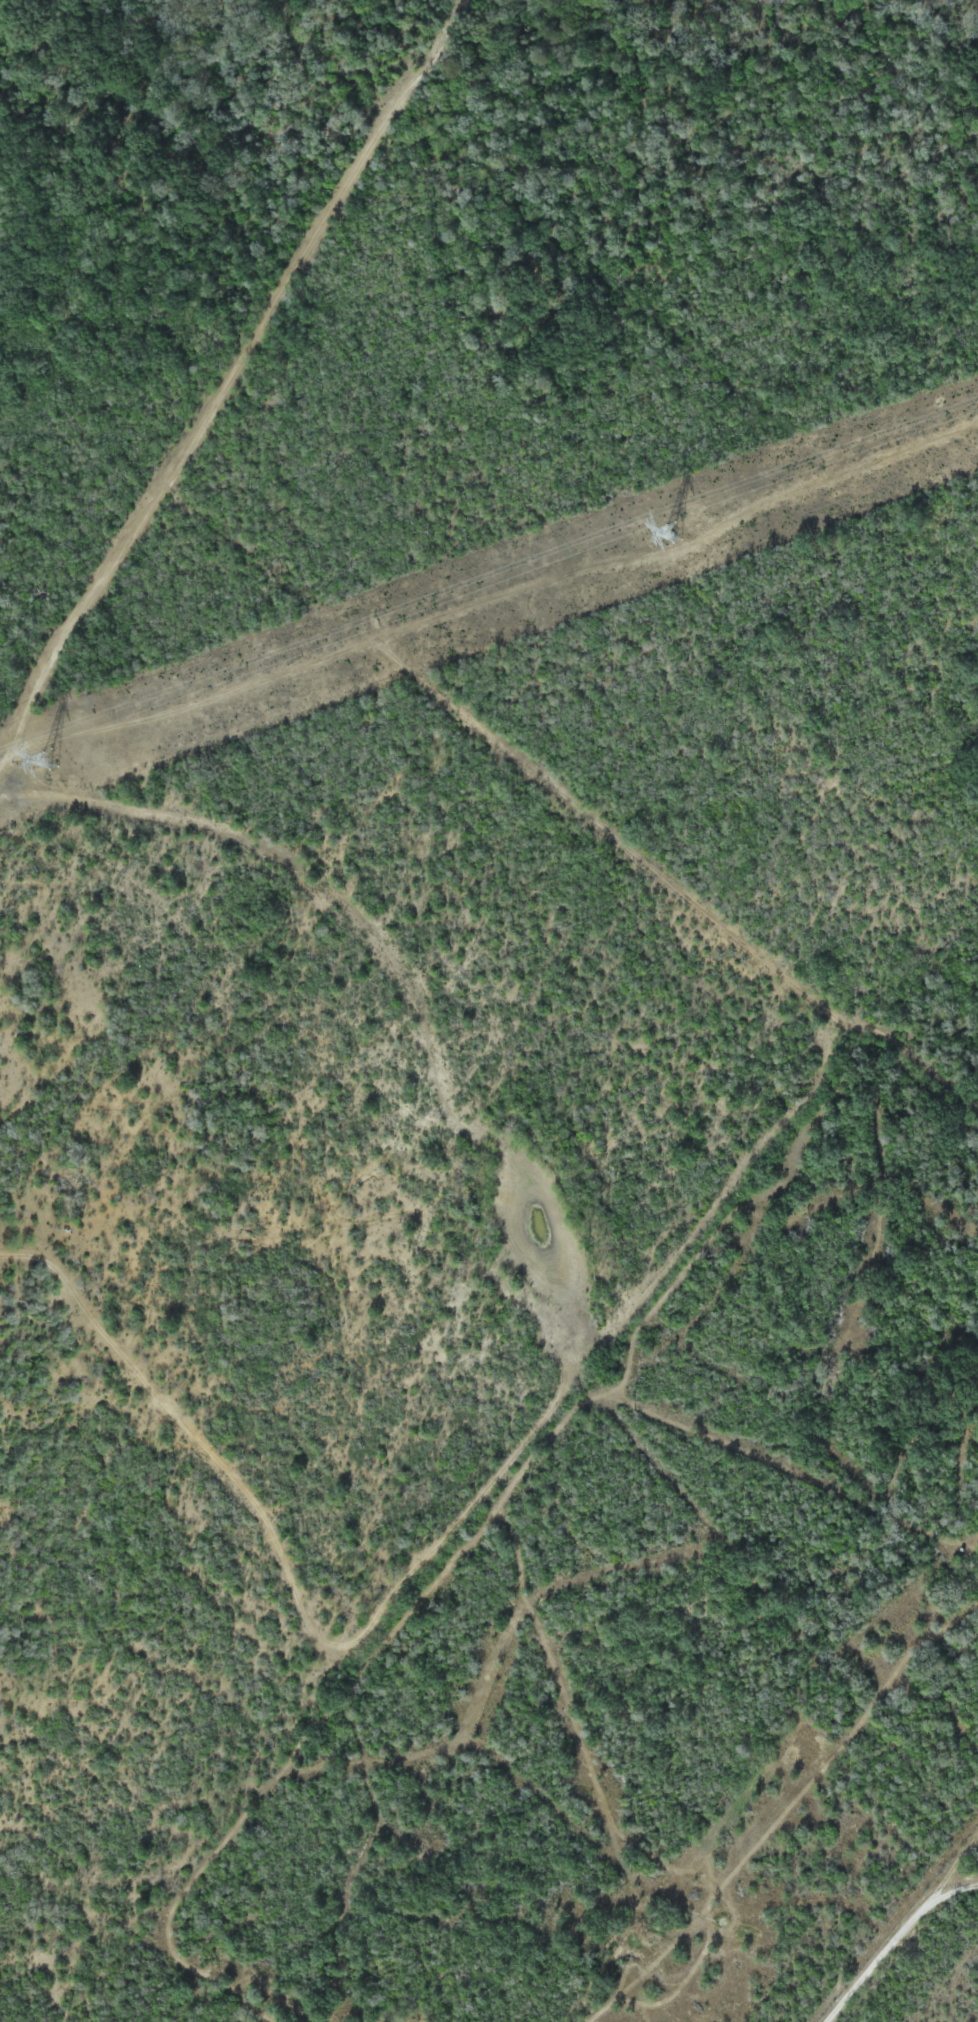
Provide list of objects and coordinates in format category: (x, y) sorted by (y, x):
power tower: (672, 533)
power tower: (48, 760)

